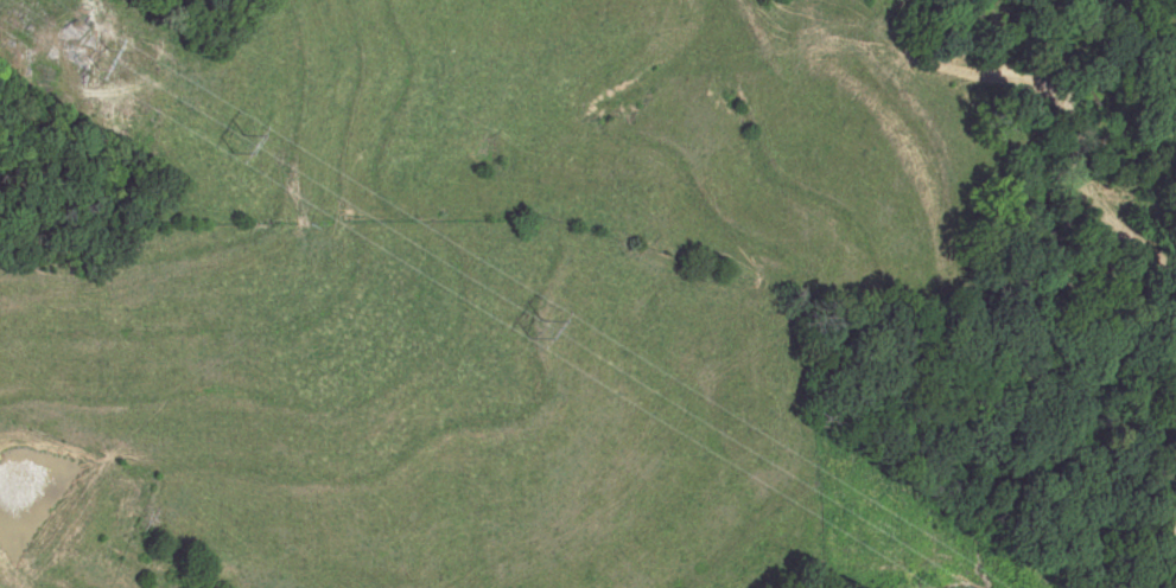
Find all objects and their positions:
power tower: (101, 53)
power tower: (236, 141)
power tower: (532, 322)

